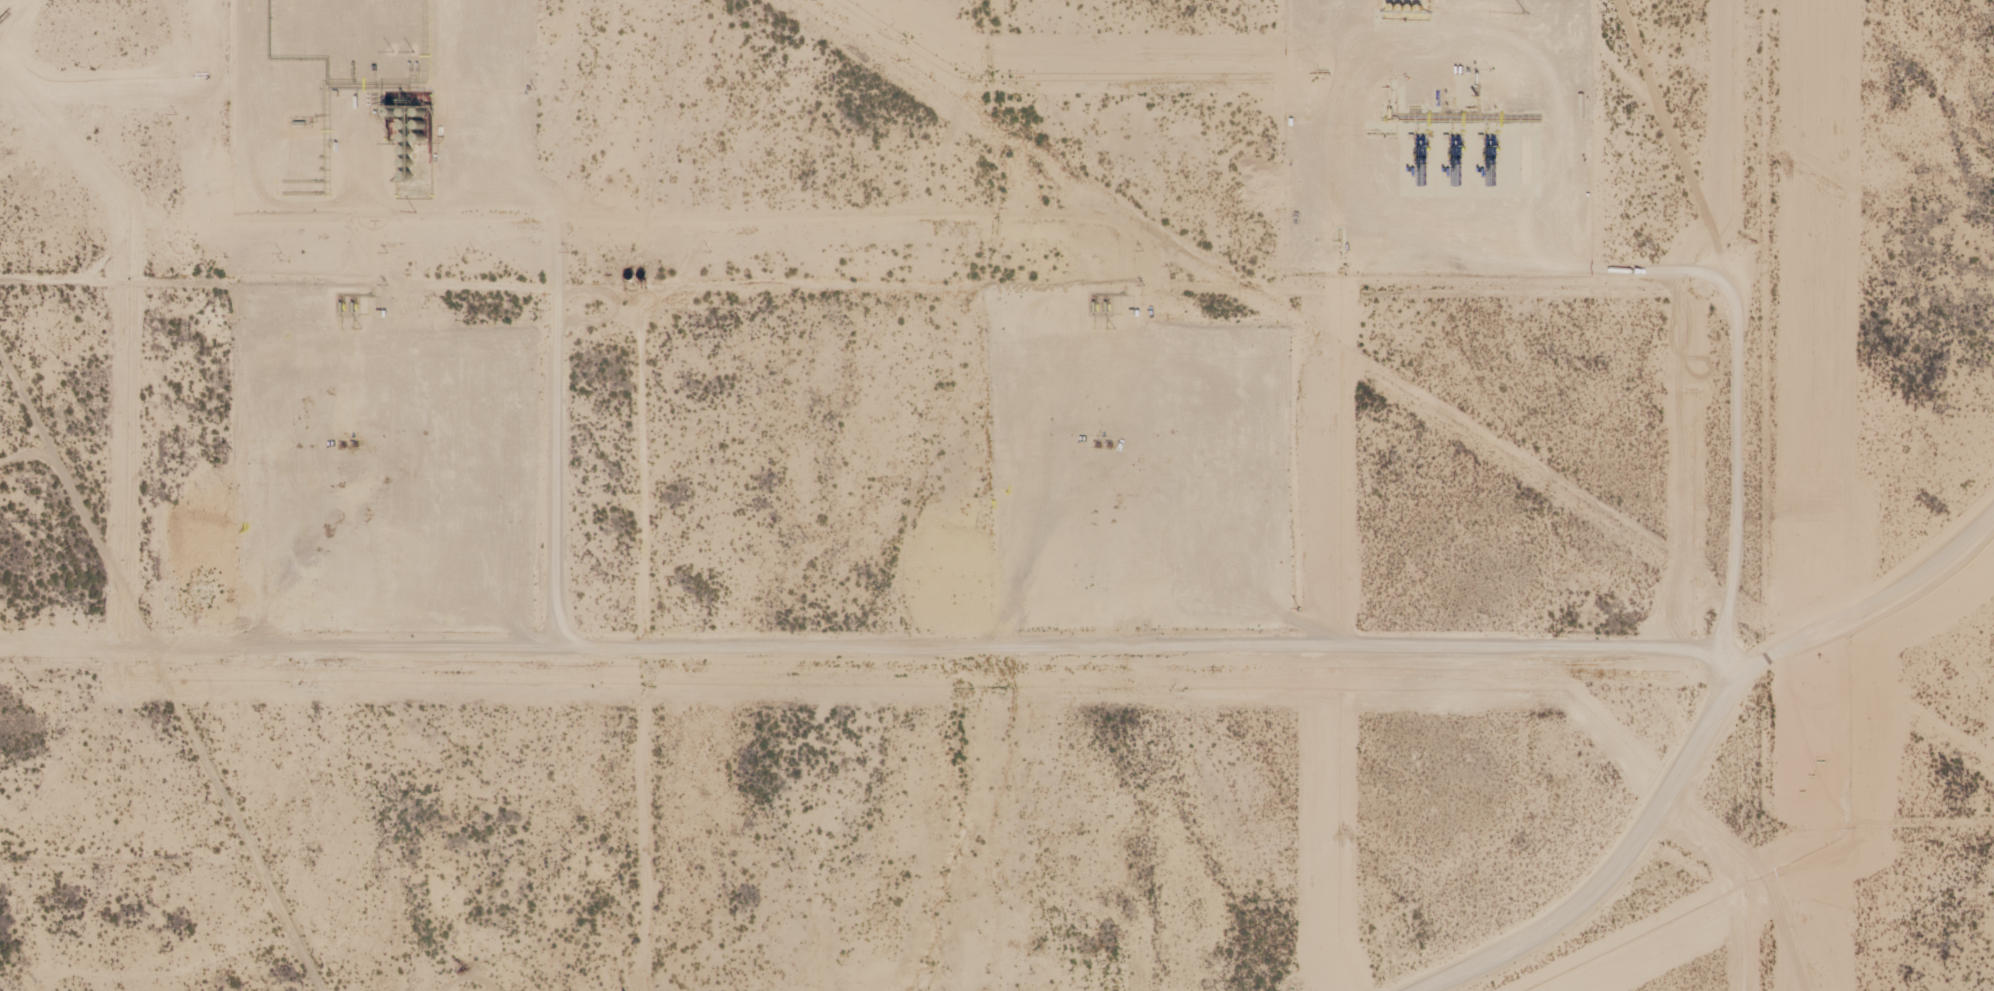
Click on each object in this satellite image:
road: (850, 304)
road: (1730, 547)
road: (1872, 592)
road: (154, 678)

